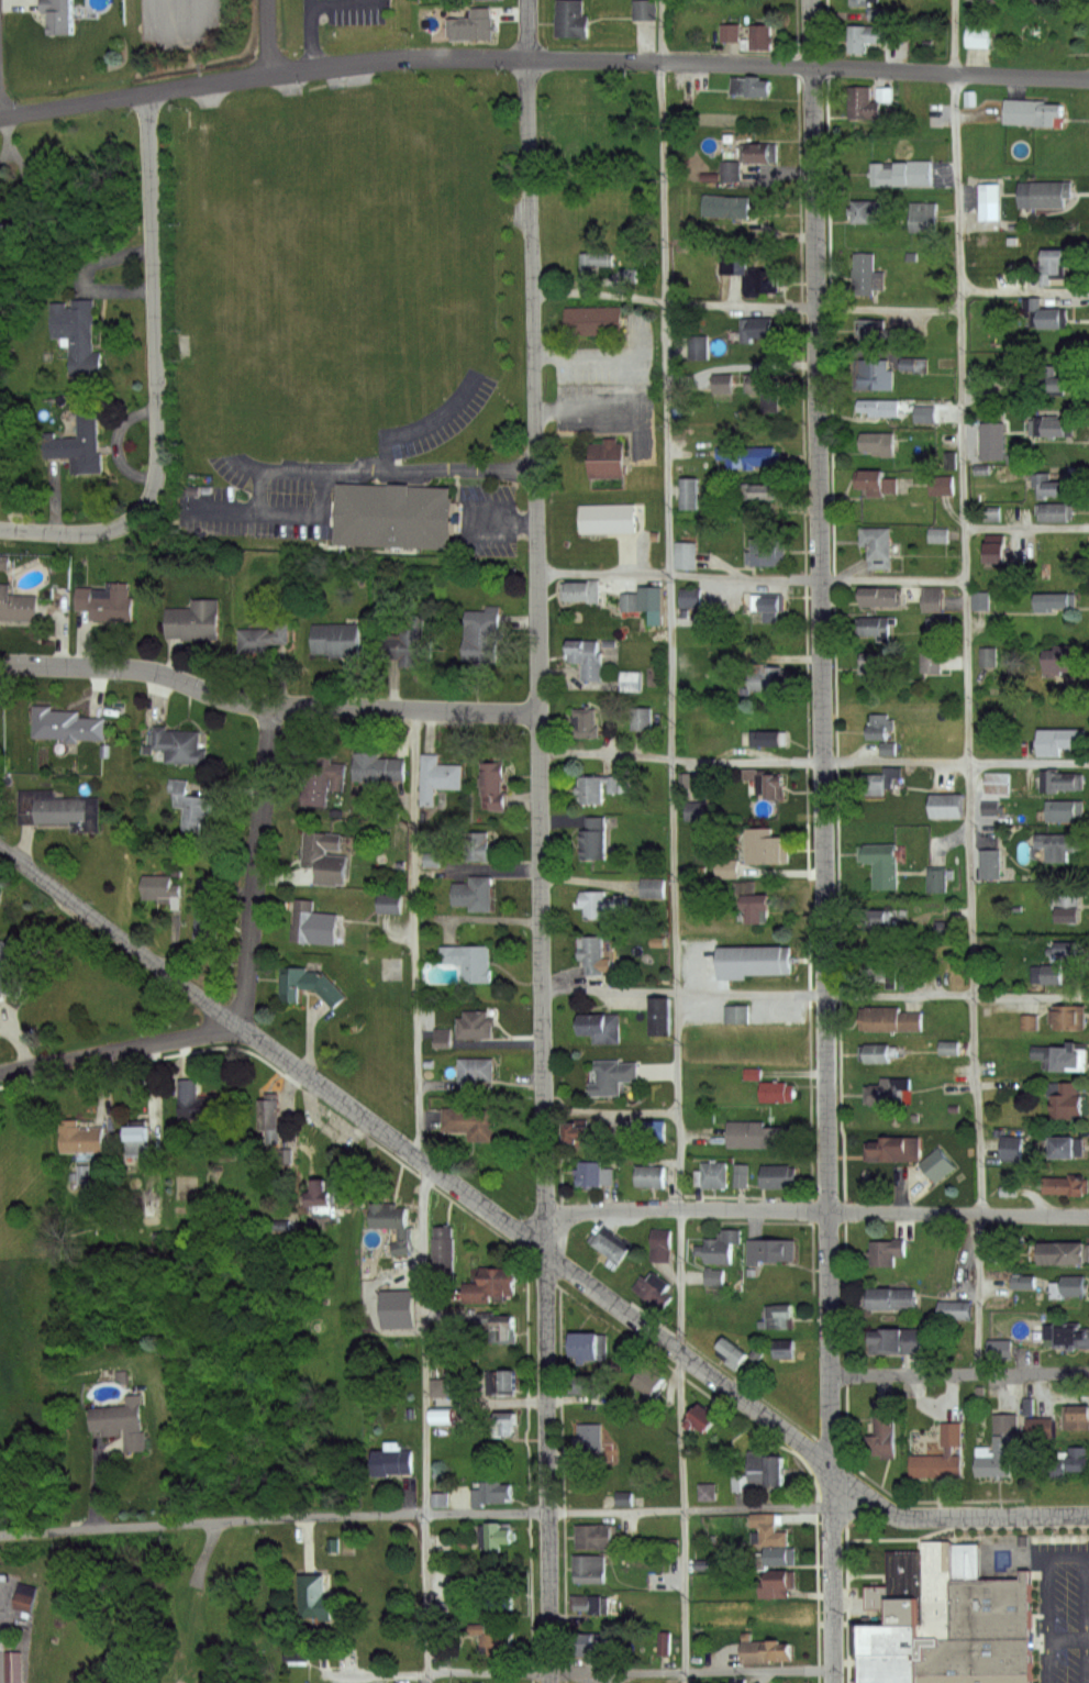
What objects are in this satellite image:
building: (992, 0)
building: (1048, 1)
road: (346, 3)
building: (862, 3)
building: (642, 9)
parking lot: (352, 12)
building: (59, 18)
building: (570, 19)
parking lot: (180, 20)
building: (473, 25)
road: (312, 33)
building: (979, 34)
road: (267, 35)
building: (760, 36)
building: (871, 36)
building: (1043, 45)
road: (542, 59)
building: (749, 90)
building: (684, 96)
building: (864, 107)
building: (1032, 114)
building: (568, 131)
road: (4, 152)
building: (756, 152)
building: (901, 174)
road: (24, 176)
building: (1047, 195)
building: (988, 202)
building: (725, 206)
building: (862, 211)
building: (923, 218)
building: (596, 261)
building: (1052, 265)
building: (866, 277)
building: (296, 278)
building: (760, 281)
road: (1024, 291)
road: (745, 308)
building: (1044, 315)
building: (592, 322)
building: (757, 330)
building: (880, 333)
building: (77, 334)
building: (698, 347)
building: (873, 375)
road: (155, 377)
road: (570, 377)
building: (1049, 380)
building: (723, 384)
building: (762, 384)
building: (879, 408)
building: (1056, 429)
building: (993, 442)
building: (878, 444)
building: (78, 449)
building: (751, 457)
building: (608, 459)
road: (400, 468)
building: (877, 483)
building: (937, 485)
building: (1049, 487)
building: (690, 495)
building: (759, 495)
building: (1056, 512)
building: (989, 513)
building: (393, 516)
road: (498, 517)
building: (607, 518)
road: (1025, 527)
building: (877, 546)
building: (768, 554)
building: (994, 554)
building: (686, 555)
road: (749, 578)
building: (584, 590)
building: (689, 598)
building: (877, 599)
building: (931, 600)
building: (977, 601)
building: (630, 602)
building: (1052, 602)
building: (109, 604)
building: (651, 604)
building: (16, 606)
building: (766, 606)
building: (193, 621)
building: (873, 625)
building: (480, 635)
building: (263, 640)
building: (333, 641)
building: (408, 649)
building: (985, 657)
building: (586, 658)
building: (1062, 660)
building: (930, 662)
building: (876, 666)
building: (766, 679)
building: (630, 683)
road: (965, 687)
road: (266, 707)
building: (641, 719)
building: (66, 722)
building: (585, 723)
building: (878, 727)
building: (767, 735)
building: (1059, 739)
building: (181, 745)
road: (813, 763)
building: (378, 768)
building: (324, 777)
building: (436, 777)
building: (765, 780)
building: (879, 780)
building: (1060, 780)
building: (996, 783)
building: (602, 785)
building: (493, 786)
building: (190, 805)
building: (945, 805)
building: (60, 809)
building: (696, 809)
building: (1066, 809)
building: (594, 837)
road: (540, 841)
road: (674, 841)
road: (822, 841)
building: (1060, 842)
building: (478, 845)
building: (766, 846)
building: (326, 856)
building: (990, 863)
road: (256, 864)
building: (879, 864)
building: (723, 868)
building: (933, 879)
building: (155, 887)
building: (648, 887)
building: (475, 893)
building: (602, 903)
building: (388, 904)
building: (756, 906)
building: (208, 910)
building: (1069, 914)
building: (881, 917)
building: (314, 922)
road: (120, 931)
road: (414, 938)
building: (1068, 946)
building: (593, 952)
building: (754, 960)
building: (12, 963)
building: (459, 965)
building: (882, 965)
building: (1047, 973)
building: (308, 984)
road: (815, 995)
building: (736, 1011)
building: (1068, 1014)
building: (660, 1015)
building: (889, 1018)
building: (476, 1023)
building: (601, 1026)
road: (120, 1043)
building: (945, 1048)
building: (881, 1052)
building: (1063, 1055)
building: (474, 1072)
building: (614, 1075)
building: (778, 1090)
building: (891, 1092)
building: (1067, 1100)
building: (198, 1103)
building: (267, 1111)
building: (471, 1122)
building: (654, 1130)
building: (759, 1132)
building: (580, 1133)
building: (79, 1137)
road: (389, 1138)
building: (135, 1140)
building: (1068, 1145)
building: (1012, 1148)
building: (894, 1149)
building: (938, 1164)
building: (593, 1173)
building: (79, 1174)
building: (713, 1174)
building: (741, 1174)
building: (649, 1175)
building: (778, 1176)
building: (1067, 1184)
building: (320, 1195)
road: (816, 1211)
building: (392, 1221)
building: (660, 1243)
building: (610, 1244)
building: (720, 1247)
building: (770, 1249)
building: (442, 1251)
building: (886, 1251)
building: (1063, 1253)
building: (714, 1276)
building: (491, 1285)
building: (653, 1289)
building: (1065, 1289)
building: (892, 1298)
building: (953, 1309)
building: (779, 1315)
building: (502, 1327)
building: (1068, 1335)
road: (424, 1339)
building: (898, 1341)
building: (590, 1346)
building: (781, 1349)
building: (1000, 1349)
building: (733, 1351)
road: (686, 1358)
road: (958, 1375)
building: (503, 1381)
building: (648, 1382)
building: (584, 1383)
building: (440, 1387)
building: (437, 1414)
building: (1077, 1415)
building: (700, 1418)
building: (507, 1421)
building: (119, 1424)
building: (1042, 1427)
building: (884, 1431)
building: (589, 1441)
building: (1001, 1448)
building: (942, 1454)
building: (393, 1458)
building: (1077, 1458)
building: (758, 1460)
building: (776, 1469)
building: (742, 1483)
building: (705, 1492)
building: (491, 1493)
road: (627, 1512)
road: (949, 1518)
road: (213, 1523)
building: (495, 1536)
building: (773, 1536)
building: (592, 1537)
road: (1068, 1554)
building: (779, 1555)
building: (588, 1568)
building: (777, 1584)
building: (495, 1596)
building: (316, 1598)
road: (429, 1598)
building: (26, 1603)
road: (186, 1604)
building: (590, 1604)
parking lot: (1063, 1607)
park: (171, 1608)
building: (769, 1612)
building: (946, 1618)
building: (491, 1640)
road: (1069, 1640)
building: (587, 1642)
building: (664, 1643)
building: (764, 1650)
building: (14, 1667)
road: (631, 1673)

